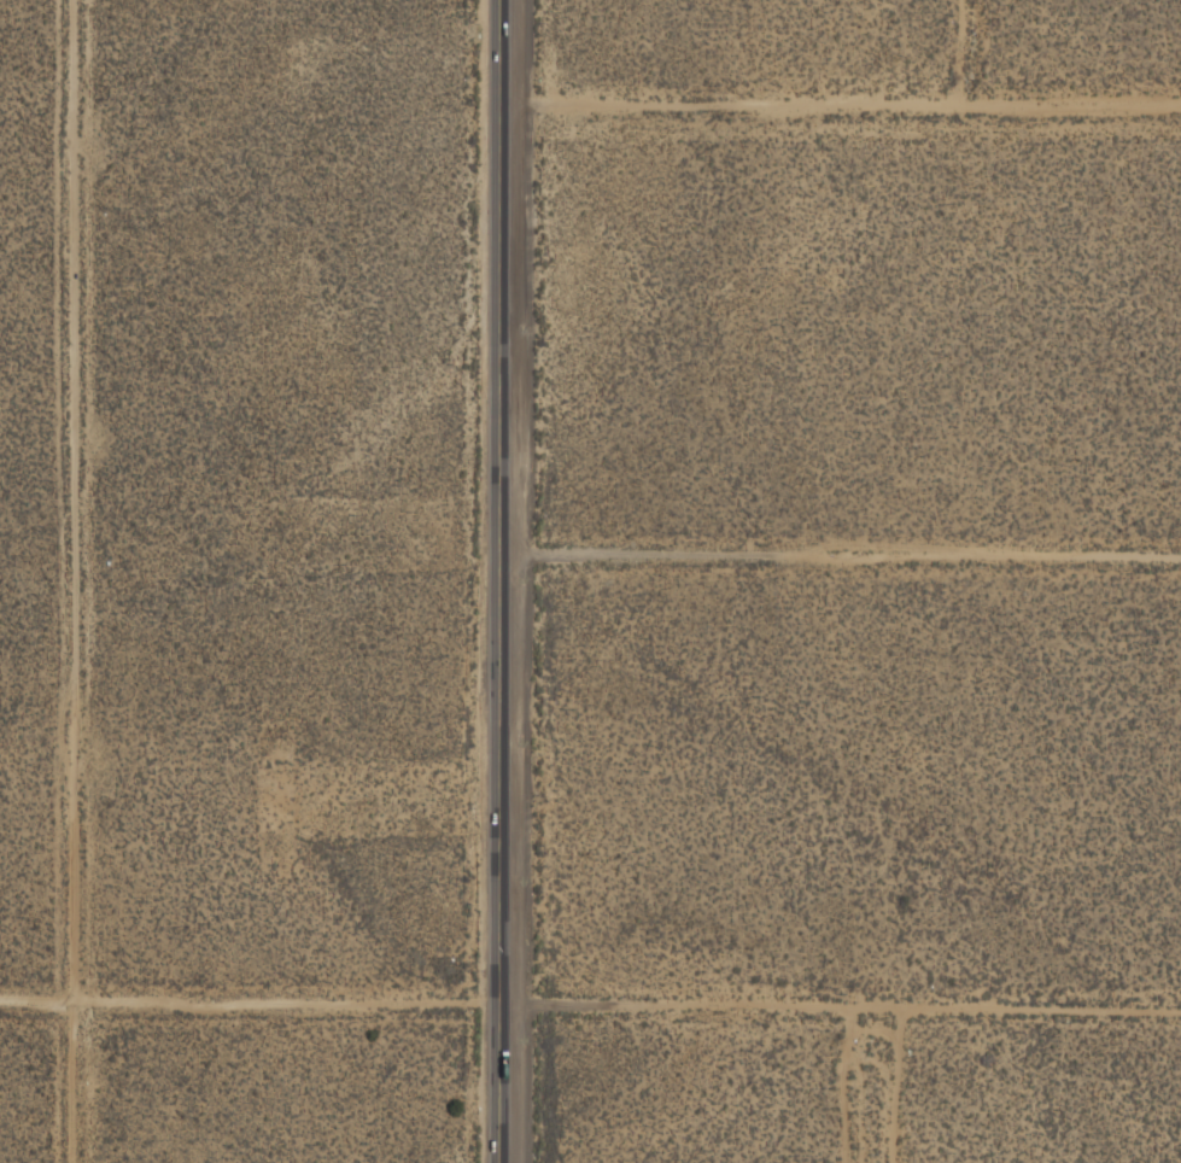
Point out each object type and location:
road: (840, 99)
road: (838, 551)
road: (496, 581)
road: (249, 1005)
road: (840, 1005)

